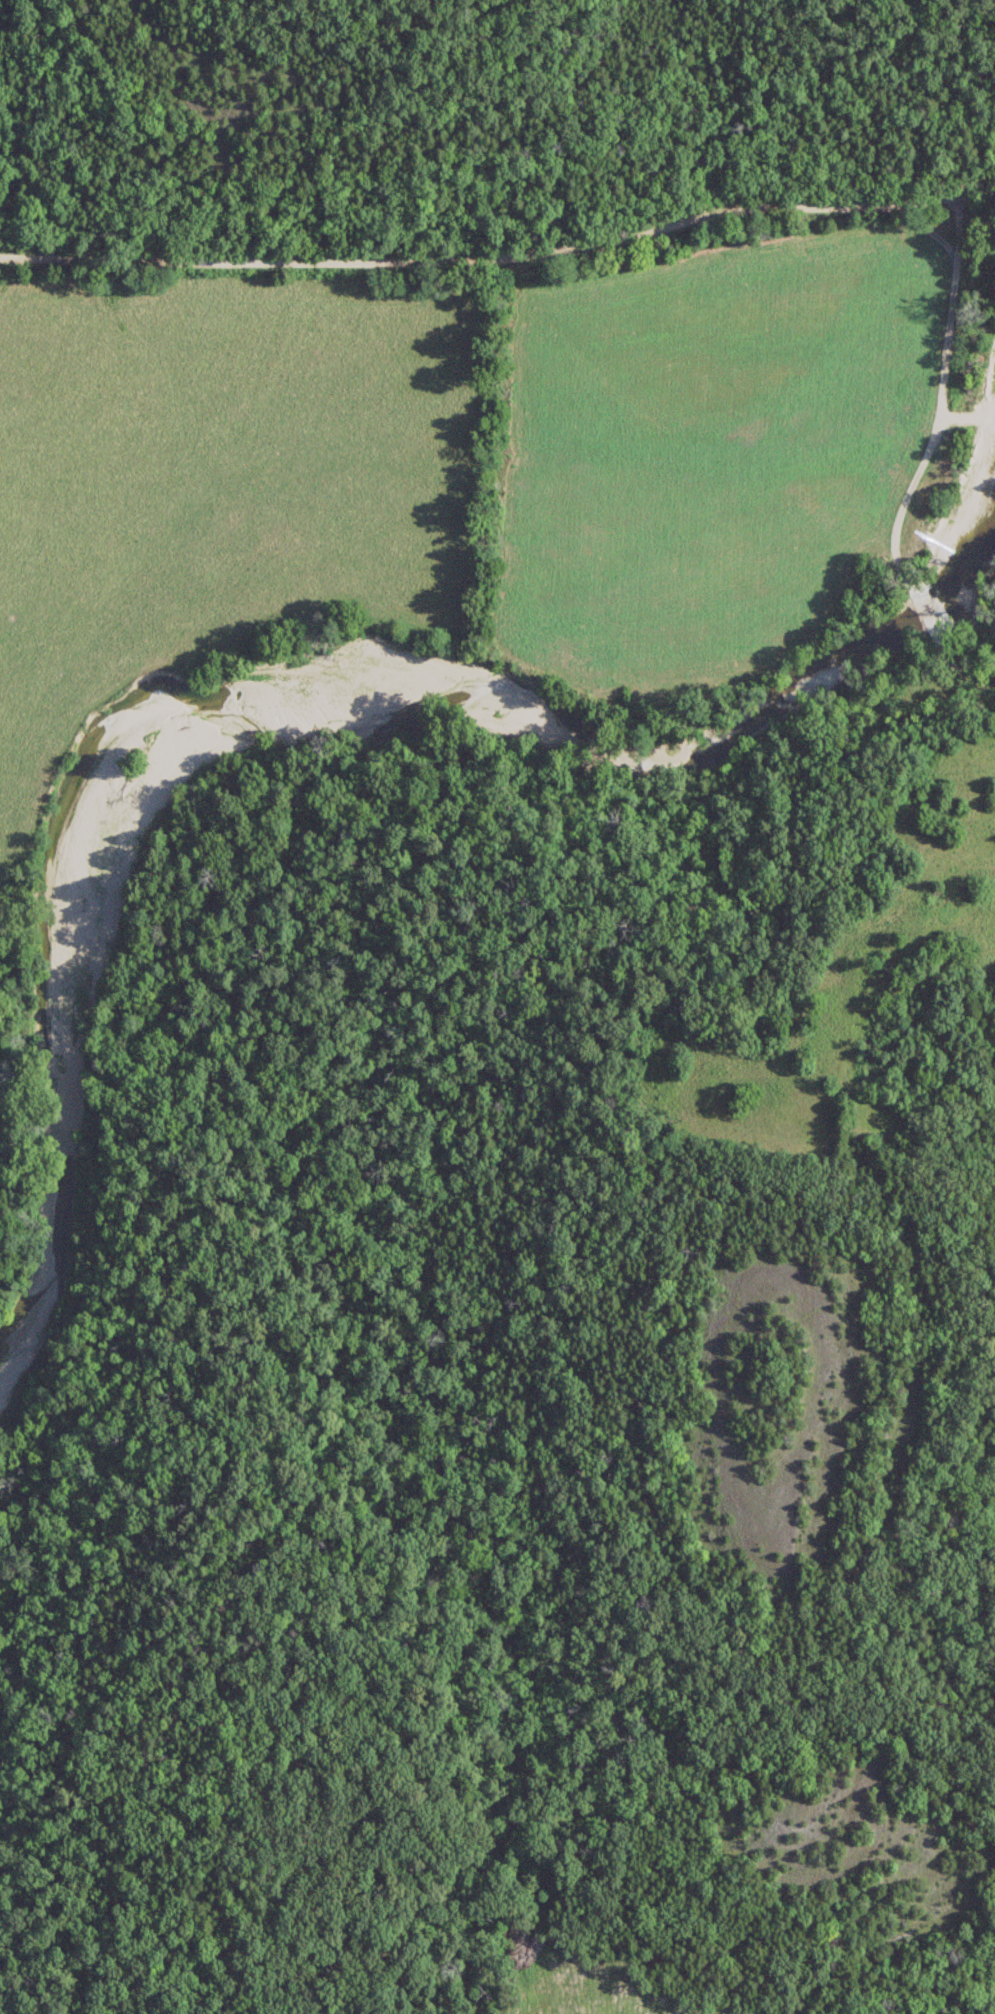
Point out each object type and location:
road: (501, 258)
road: (919, 466)

